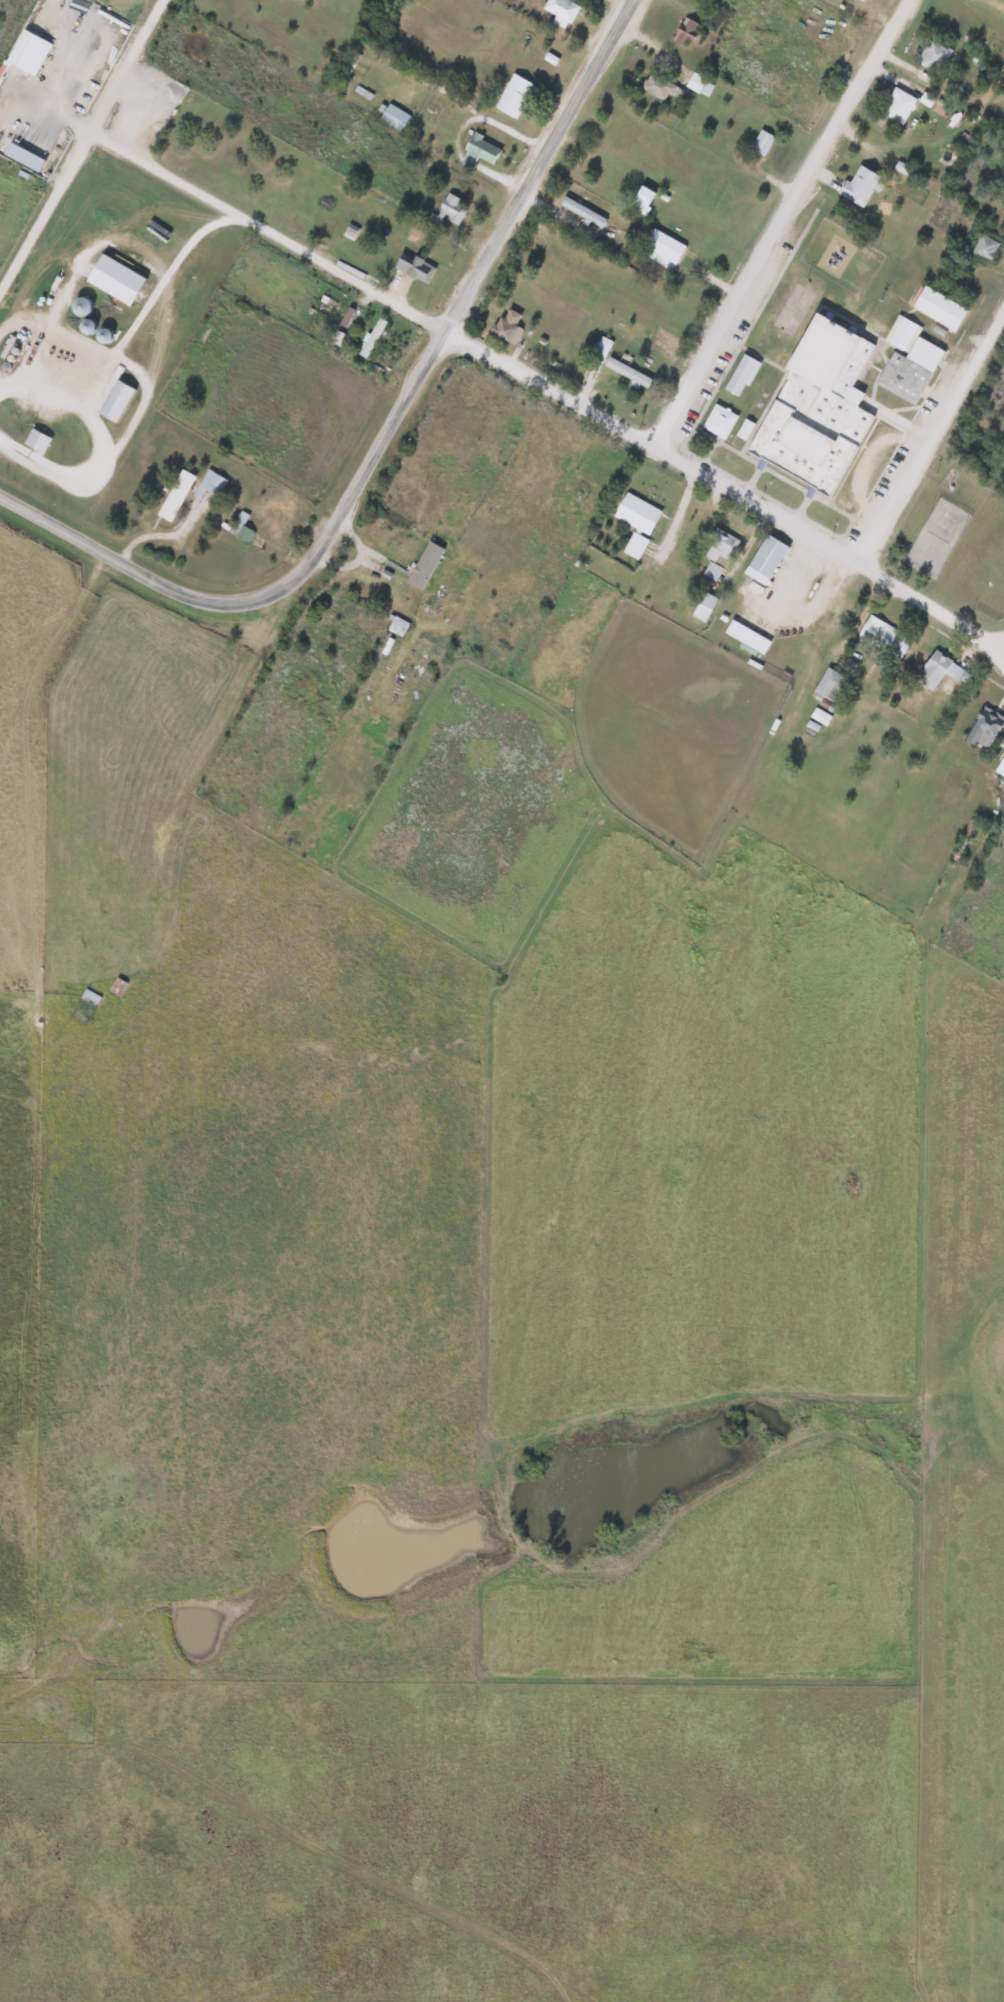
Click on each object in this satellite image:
building: (864, 0)
building: (560, 11)
road: (920, 22)
building: (27, 52)
building: (932, 56)
building: (698, 85)
building: (661, 89)
building: (512, 95)
building: (897, 105)
building: (141, 114)
building: (393, 117)
building: (760, 142)
road: (83, 145)
building: (481, 149)
building: (858, 185)
building: (640, 199)
building: (449, 211)
building: (581, 211)
road: (783, 222)
building: (983, 247)
building: (662, 248)
building: (413, 267)
building: (79, 306)
road: (459, 306)
building: (937, 308)
building: (506, 327)
building: (338, 338)
building: (371, 338)
building: (906, 360)
building: (626, 372)
road: (551, 389)
building: (115, 401)
building: (814, 407)
building: (718, 420)
building: (744, 430)
road: (929, 431)
building: (35, 441)
building: (582, 494)
building: (175, 495)
building: (636, 522)
building: (240, 533)
building: (717, 553)
building: (764, 560)
road: (128, 563)
building: (423, 566)
building: (832, 600)
building: (703, 607)
building: (397, 627)
building: (883, 637)
road: (1002, 652)
building: (938, 670)
building: (830, 685)
building: (983, 728)
building: (999, 767)
building: (117, 986)
building: (90, 997)

